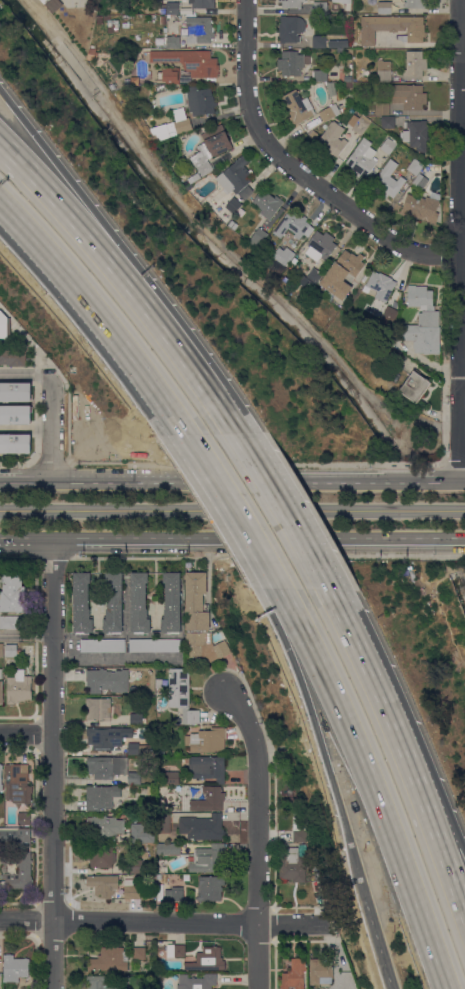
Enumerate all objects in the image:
building: (45, 1)
building: (202, 3)
building: (291, 3)
building: (415, 3)
building: (52, 4)
building: (348, 6)
building: (384, 6)
building: (320, 7)
building: (173, 8)
building: (107, 17)
building: (162, 20)
building: (113, 25)
building: (392, 27)
building: (290, 28)
building: (198, 29)
building: (150, 40)
building: (169, 41)
building: (319, 41)
building: (338, 43)
building: (92, 54)
building: (188, 60)
building: (291, 63)
building: (415, 63)
road: (462, 69)
building: (384, 71)
building: (170, 75)
building: (320, 75)
building: (349, 85)
building: (331, 89)
building: (409, 96)
building: (200, 100)
building: (298, 107)
building: (382, 109)
building: (330, 112)
building: (179, 122)
building: (388, 122)
building: (359, 123)
building: (415, 134)
building: (333, 139)
building: (389, 145)
building: (211, 148)
building: (229, 155)
building: (362, 158)
building: (218, 162)
building: (415, 166)
road: (296, 172)
building: (236, 177)
building: (194, 178)
building: (388, 180)
building: (419, 181)
building: (267, 204)
building: (234, 205)
building: (421, 207)
building: (234, 225)
building: (294, 225)
building: (258, 237)
road: (460, 240)
road: (219, 243)
building: (320, 245)
road: (128, 254)
building: (284, 255)
building: (342, 274)
building: (314, 277)
road: (122, 284)
building: (381, 284)
building: (403, 306)
road: (96, 313)
building: (388, 316)
building: (423, 321)
building: (368, 322)
building: (4, 326)
building: (12, 357)
road: (462, 368)
road: (26, 374)
building: (419, 384)
building: (15, 391)
building: (16, 414)
road: (52, 428)
building: (16, 443)
road: (16, 462)
road: (255, 462)
road: (50, 463)
road: (454, 463)
road: (232, 481)
road: (234, 508)
road: (285, 508)
road: (214, 512)
road: (232, 536)
road: (17, 556)
road: (52, 556)
road: (267, 556)
building: (14, 592)
building: (114, 602)
building: (82, 603)
building: (139, 603)
building: (172, 603)
building: (13, 621)
building: (200, 623)
road: (26, 633)
building: (102, 645)
building: (155, 645)
building: (1, 649)
building: (12, 650)
building: (1, 673)
building: (108, 681)
building: (159, 683)
building: (19, 687)
building: (1, 692)
building: (182, 694)
building: (99, 708)
building: (136, 719)
road: (25, 733)
building: (107, 737)
building: (207, 740)
road: (318, 742)
building: (134, 749)
road: (402, 754)
road: (52, 762)
building: (107, 766)
building: (208, 767)
building: (280, 770)
building: (1, 777)
building: (134, 778)
building: (172, 778)
road: (377, 782)
building: (18, 785)
building: (101, 795)
building: (210, 799)
road: (440, 815)
building: (25, 818)
building: (164, 822)
building: (106, 826)
building: (202, 827)
building: (299, 829)
building: (143, 833)
road: (257, 834)
building: (16, 836)
building: (145, 854)
building: (101, 855)
building: (199, 856)
building: (293, 865)
building: (136, 866)
building: (25, 868)
building: (158, 877)
building: (103, 884)
building: (210, 887)
building: (132, 890)
building: (159, 892)
building: (178, 894)
road: (160, 921)
road: (378, 946)
building: (177, 950)
building: (140, 953)
building: (110, 959)
building: (208, 960)
building: (15, 968)
building: (321, 970)
building: (295, 975)
building: (160, 976)
building: (197, 981)
building: (99, 982)

